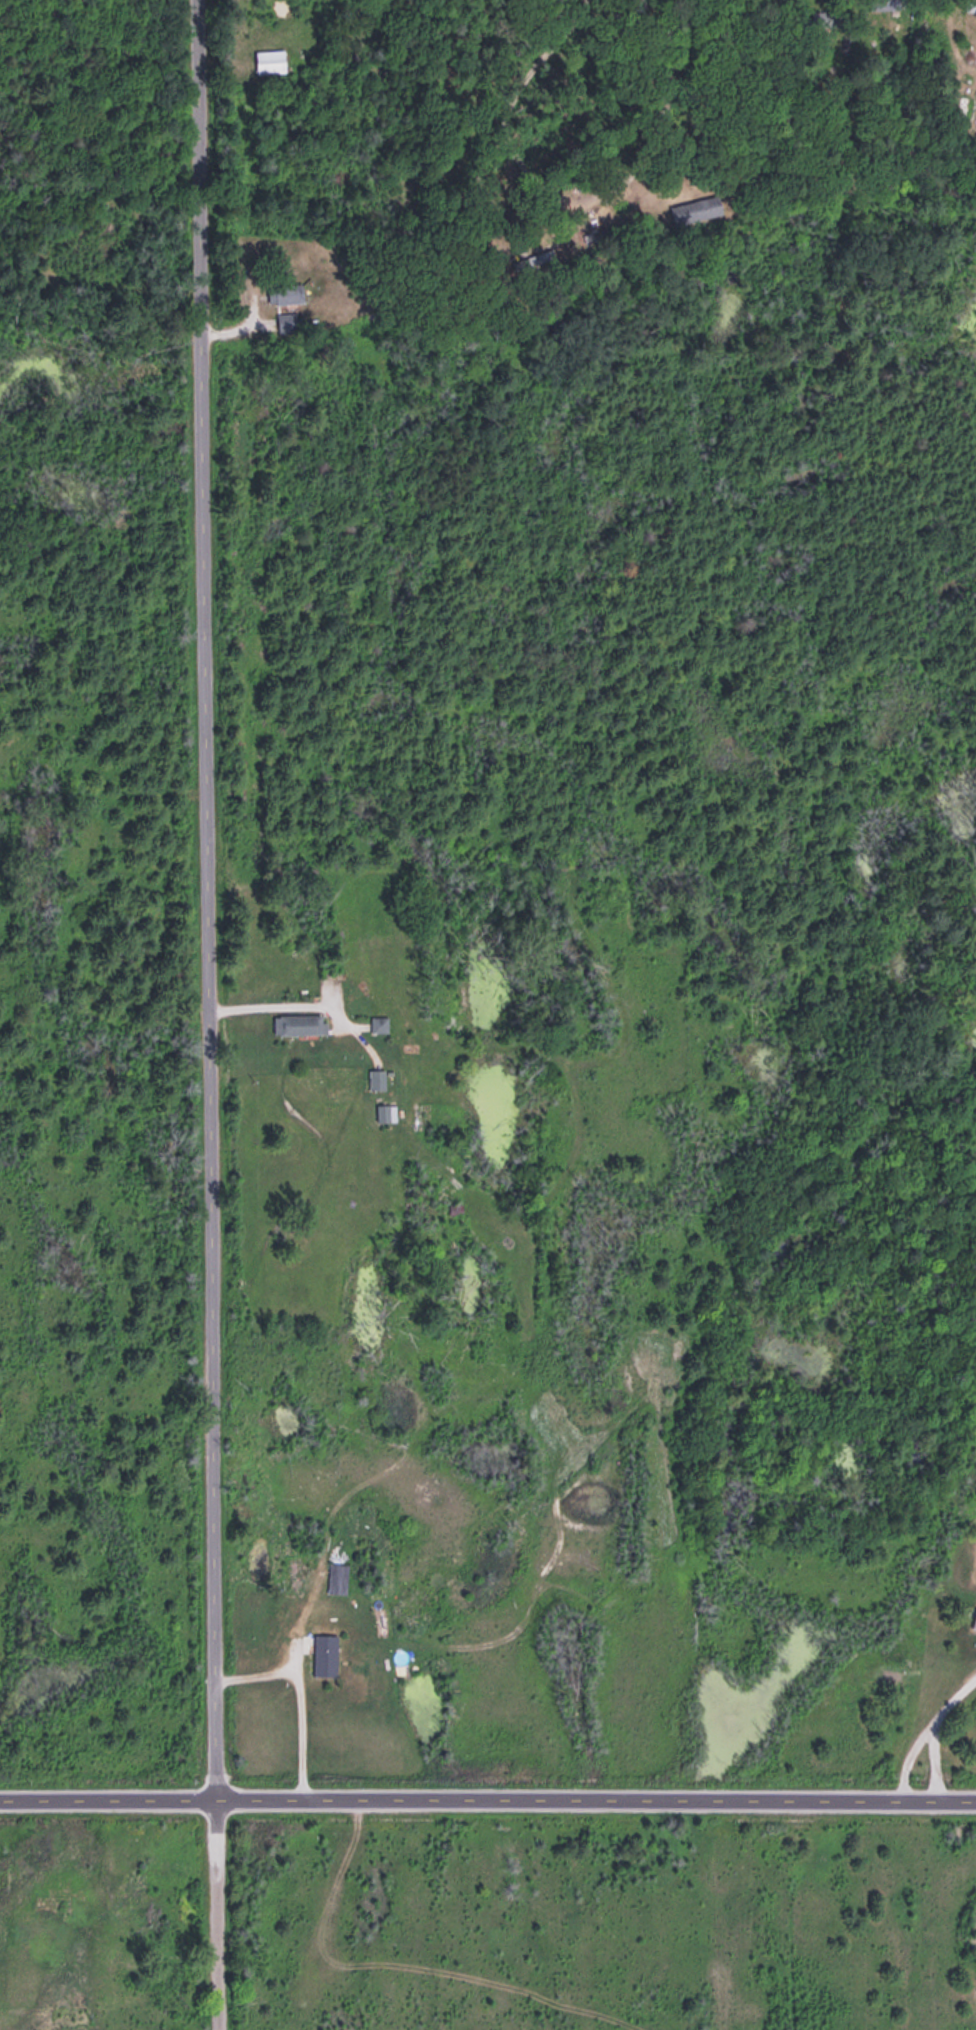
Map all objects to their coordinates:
building: (969, 5)
building: (268, 59)
building: (694, 208)
building: (532, 259)
building: (284, 291)
building: (286, 321)
road: (217, 1015)
building: (298, 1022)
building: (378, 1022)
building: (375, 1077)
building: (385, 1111)
building: (336, 1575)
building: (324, 1652)
road: (488, 1785)

